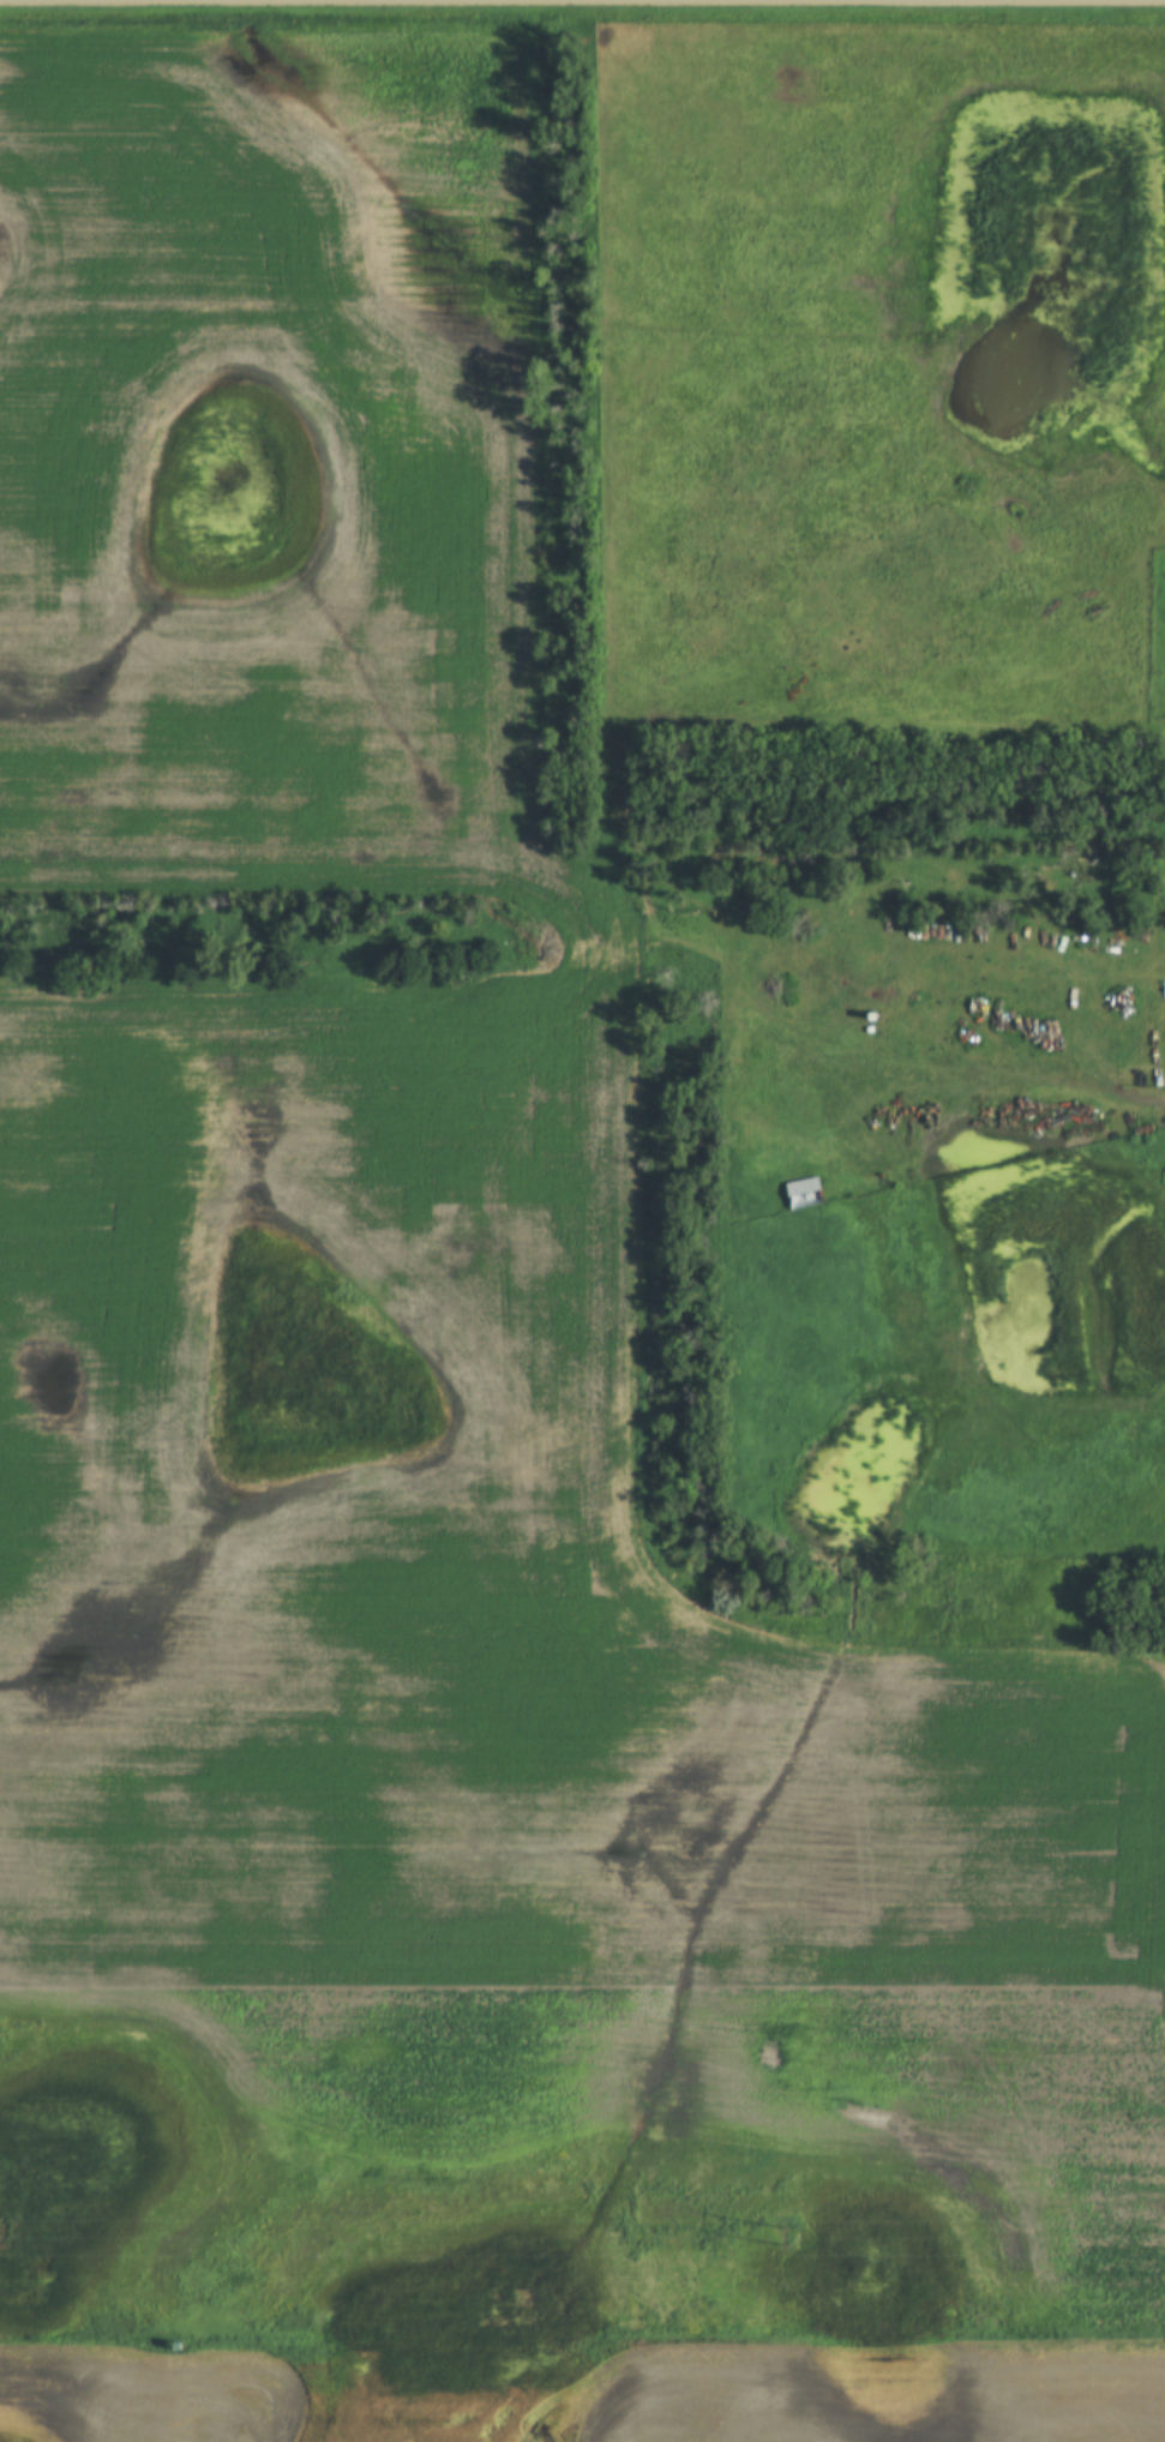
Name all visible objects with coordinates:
building: (804, 1193)
crop: (431, 1398)
power tower: (5, 2234)
power tower: (792, 2240)
crop: (173, 2394)
crop: (854, 2394)

